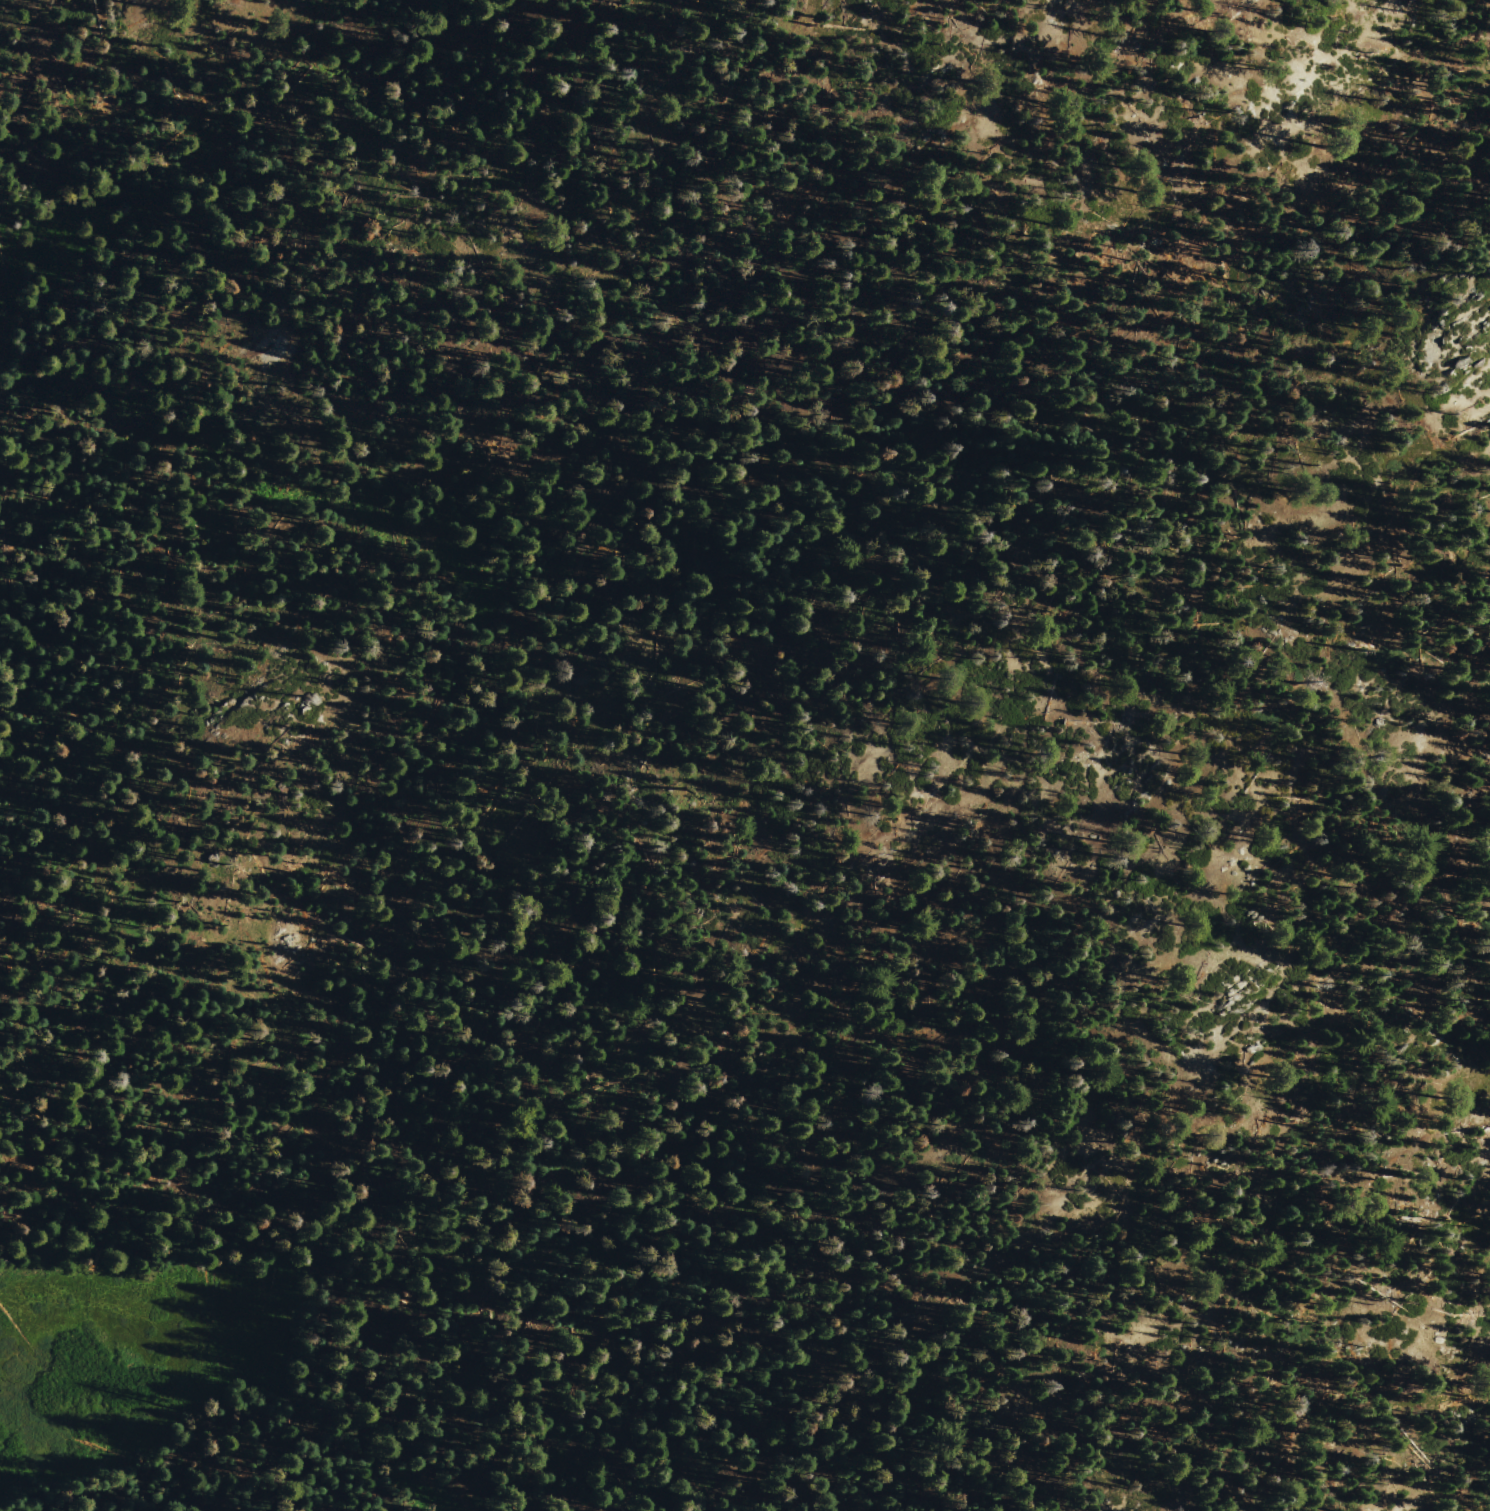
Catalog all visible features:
road: (1311, 180)
road: (1271, 993)

